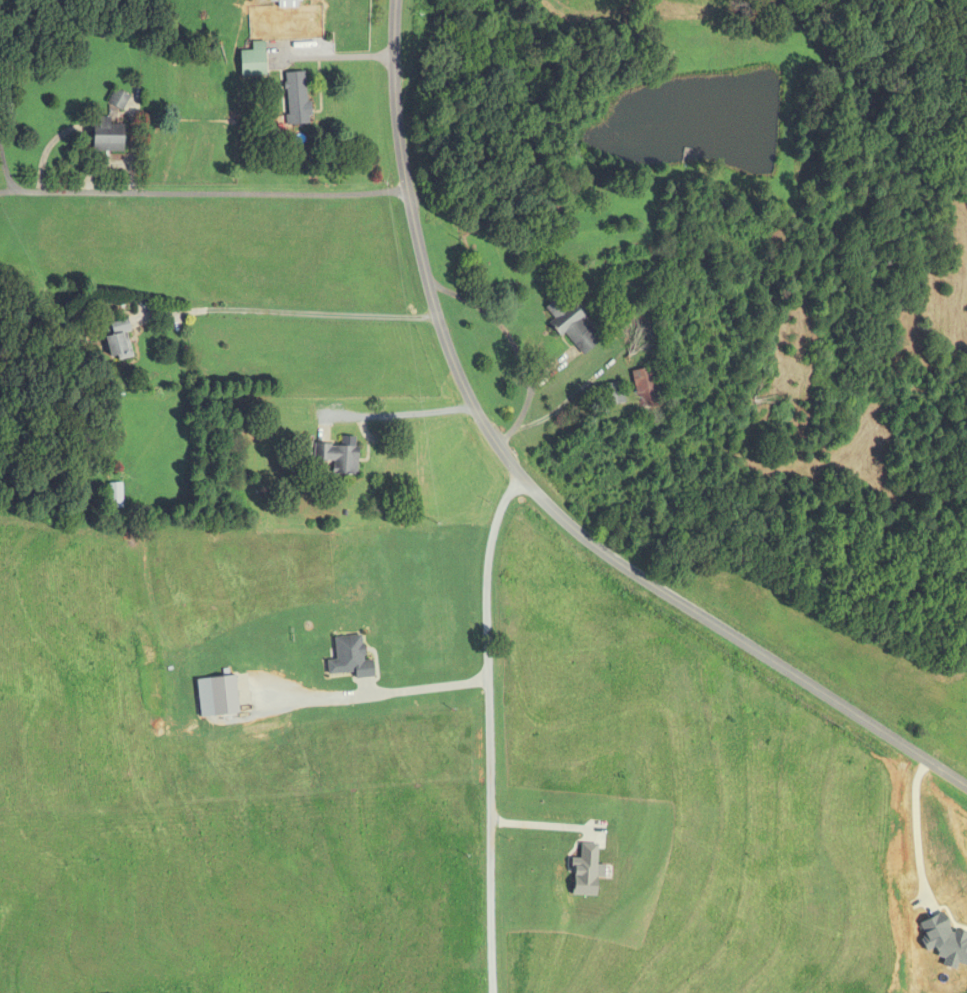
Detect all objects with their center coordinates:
building: (288, 3)
road: (341, 56)
building: (254, 61)
building: (296, 99)
building: (118, 100)
building: (108, 137)
road: (6, 170)
road: (8, 191)
road: (213, 193)
road: (295, 313)
building: (572, 326)
building: (119, 341)
road: (515, 348)
building: (647, 388)
building: (613, 394)
road: (402, 414)
building: (338, 458)
road: (541, 488)
building: (115, 496)
road: (409, 689)
road: (489, 727)
road: (539, 824)
road: (917, 833)

